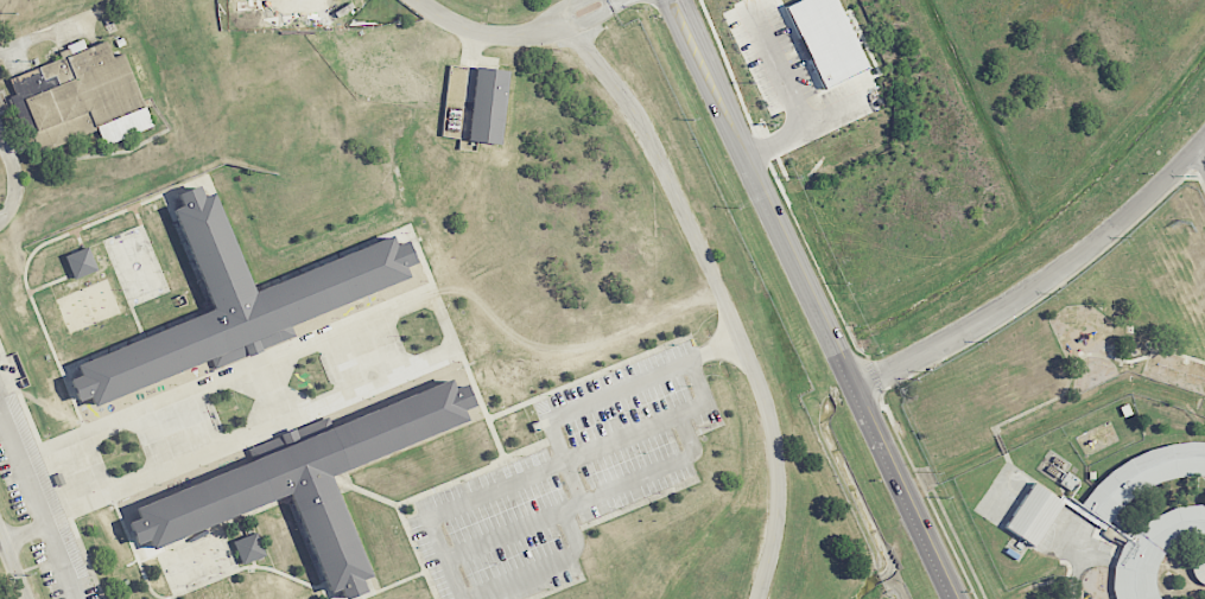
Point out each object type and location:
road: (47, 31)
road: (510, 34)
building: (826, 39)
road: (469, 84)
building: (78, 98)
road: (795, 101)
building: (488, 104)
road: (6, 109)
road: (1201, 153)
road: (14, 178)
road: (194, 181)
road: (768, 197)
road: (164, 199)
road: (172, 211)
road: (64, 236)
building: (81, 262)
road: (157, 265)
road: (114, 266)
park: (135, 266)
road: (116, 270)
road: (50, 282)
road: (1044, 282)
road: (721, 294)
park: (88, 305)
building: (234, 305)
road: (191, 314)
road: (640, 359)
road: (590, 376)
road: (475, 385)
road: (307, 400)
road: (723, 423)
road: (709, 427)
road: (495, 436)
road: (547, 436)
road: (408, 445)
parking lot: (20, 458)
road: (569, 471)
road: (50, 473)
road: (471, 473)
road: (348, 474)
building: (306, 479)
parking lot: (566, 479)
road: (512, 482)
road: (699, 482)
road: (364, 491)
road: (908, 497)
road: (39, 501)
road: (639, 503)
building: (1033, 515)
road: (122, 517)
building: (1153, 527)
road: (211, 528)
road: (513, 529)
road: (25, 531)
road: (355, 533)
road: (226, 536)
road: (304, 541)
road: (228, 547)
building: (248, 548)
road: (417, 552)
road: (1072, 559)
park: (197, 560)
road: (12, 567)
parking lot: (63, 567)
road: (543, 568)
road: (426, 571)
road: (166, 572)
road: (316, 572)
road: (578, 575)
road: (405, 576)
road: (198, 585)
road: (324, 585)
road: (391, 585)
road: (557, 587)
road: (326, 592)

